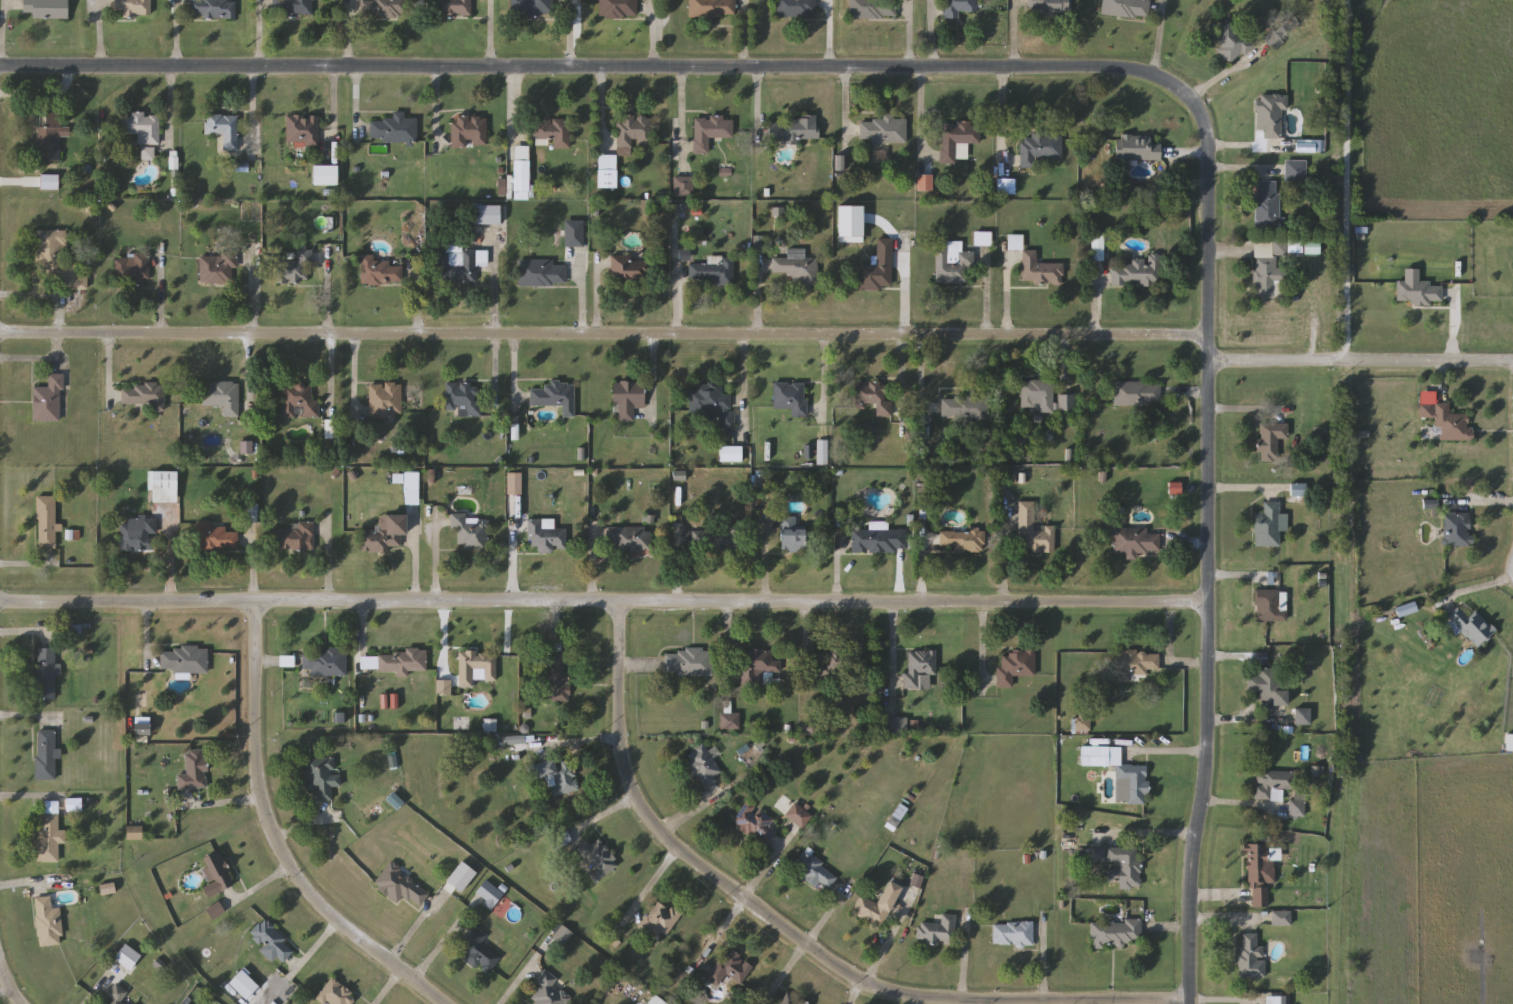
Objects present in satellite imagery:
building: (132, 7)
building: (293, 7)
building: (454, 7)
building: (958, 7)
building: (1049, 7)
building: (386, 8)
building: (532, 8)
building: (1126, 8)
building: (46, 9)
building: (213, 9)
building: (618, 9)
building: (712, 9)
building: (796, 9)
building: (872, 9)
road: (1, 33)
road: (97, 33)
road: (491, 33)
road: (571, 33)
road: (653, 33)
road: (744, 34)
road: (830, 34)
road: (1015, 34)
road: (909, 35)
road: (1157, 36)
road: (930, 37)
building: (1231, 42)
road: (1055, 69)
road: (351, 70)
road: (173, 71)
road: (1224, 75)
road: (255, 79)
road: (45, 98)
road: (517, 98)
road: (846, 104)
road: (602, 106)
road: (332, 110)
road: (436, 110)
road: (922, 111)
road: (682, 113)
building: (1270, 115)
road: (1001, 121)
building: (142, 127)
building: (224, 129)
building: (394, 129)
building: (551, 129)
building: (793, 129)
building: (303, 130)
building: (469, 131)
building: (710, 131)
building: (883, 131)
building: (632, 133)
building: (957, 141)
building: (49, 144)
building: (1308, 146)
building: (1039, 148)
road: (1226, 149)
building: (1137, 150)
building: (521, 169)
building: (607, 171)
road: (1241, 171)
building: (1295, 171)
building: (324, 175)
road: (1347, 180)
building: (684, 186)
building: (1006, 186)
building: (1267, 204)
building: (484, 215)
building: (574, 233)
road: (1239, 248)
building: (57, 261)
building: (460, 264)
building: (951, 264)
building: (878, 267)
building: (217, 268)
building: (798, 268)
building: (294, 269)
building: (631, 269)
building: (131, 270)
building: (712, 270)
building: (1040, 270)
building: (379, 271)
building: (1136, 272)
building: (542, 273)
building: (1268, 279)
building: (1418, 292)
road: (597, 296)
road: (1008, 296)
road: (583, 297)
road: (985, 297)
road: (159, 298)
road: (756, 298)
road: (676, 300)
road: (1095, 300)
road: (416, 301)
road: (496, 326)
road: (59, 329)
road: (330, 329)
road: (251, 332)
road: (906, 332)
road: (603, 335)
road: (1451, 342)
road: (29, 360)
road: (1066, 361)
road: (1359, 361)
road: (109, 373)
road: (515, 373)
road: (654, 377)
road: (824, 380)
road: (744, 381)
road: (356, 382)
building: (1137, 393)
building: (143, 395)
building: (222, 396)
building: (553, 396)
building: (791, 397)
building: (874, 397)
building: (1044, 397)
building: (464, 398)
building: (627, 399)
building: (48, 400)
building: (385, 400)
building: (299, 401)
building: (712, 405)
building: (965, 408)
road: (1244, 412)
building: (1448, 421)
building: (331, 429)
road: (1498, 435)
building: (1270, 440)
building: (163, 486)
road: (1242, 489)
building: (1298, 491)
road: (1478, 506)
building: (45, 522)
building: (1269, 525)
building: (1458, 529)
building: (1034, 531)
building: (469, 533)
building: (385, 535)
building: (138, 536)
building: (544, 536)
building: (215, 537)
building: (293, 538)
building: (715, 538)
building: (630, 540)
building: (873, 540)
building: (961, 541)
building: (1134, 541)
building: (793, 543)
road: (592, 558)
road: (170, 560)
road: (766, 560)
road: (838, 561)
road: (513, 562)
road: (330, 563)
road: (415, 564)
road: (676, 564)
road: (27, 565)
road: (253, 565)
road: (1003, 565)
road: (922, 569)
road: (1238, 575)
road: (1475, 590)
road: (604, 601)
building: (1267, 605)
road: (441, 607)
road: (363, 623)
building: (1472, 627)
road: (24, 634)
road: (146, 634)
road: (1169, 634)
road: (807, 640)
road: (728, 645)
road: (983, 645)
road: (892, 657)
building: (184, 660)
building: (324, 662)
building: (393, 662)
building: (688, 663)
road: (1184, 663)
building: (1135, 664)
building: (1016, 665)
building: (838, 666)
building: (919, 666)
building: (476, 667)
building: (759, 667)
building: (45, 674)
building: (555, 676)
building: (1269, 687)
building: (1302, 716)
road: (23, 718)
building: (730, 722)
road: (1248, 722)
building: (896, 726)
road: (575, 745)
road: (1165, 754)
building: (45, 755)
building: (703, 766)
building: (1118, 770)
building: (194, 771)
building: (556, 775)
building: (321, 777)
building: (1273, 782)
road: (29, 796)
road: (224, 804)
building: (1297, 805)
road: (1241, 806)
road: (690, 814)
road: (599, 819)
building: (755, 823)
road: (301, 828)
road: (1153, 833)
building: (50, 838)
road: (273, 839)
building: (595, 858)
building: (1124, 867)
building: (814, 871)
building: (1260, 872)
building: (216, 874)
road: (23, 883)
road: (654, 883)
road: (260, 886)
building: (401, 886)
road: (720, 886)
building: (488, 894)
road: (741, 903)
building: (877, 905)
building: (660, 920)
building: (47, 923)
road: (1173, 930)
building: (938, 931)
road: (412, 933)
building: (1116, 933)
building: (1013, 934)
building: (274, 942)
road: (806, 943)
road: (441, 947)
road: (316, 951)
building: (478, 952)
building: (1251, 957)
road: (879, 959)
road: (964, 959)
road: (1043, 965)
road: (1, 968)
building: (729, 968)
road: (5, 982)
road: (516, 983)
road: (389, 987)
building: (548, 991)
road: (5, 992)
building: (336, 995)
building: (117, 996)
road: (91, 997)
road: (1224, 1001)
building: (1274, 1001)
road: (917, 1002)
road: (1132, 1002)
road: (978, 1003)

